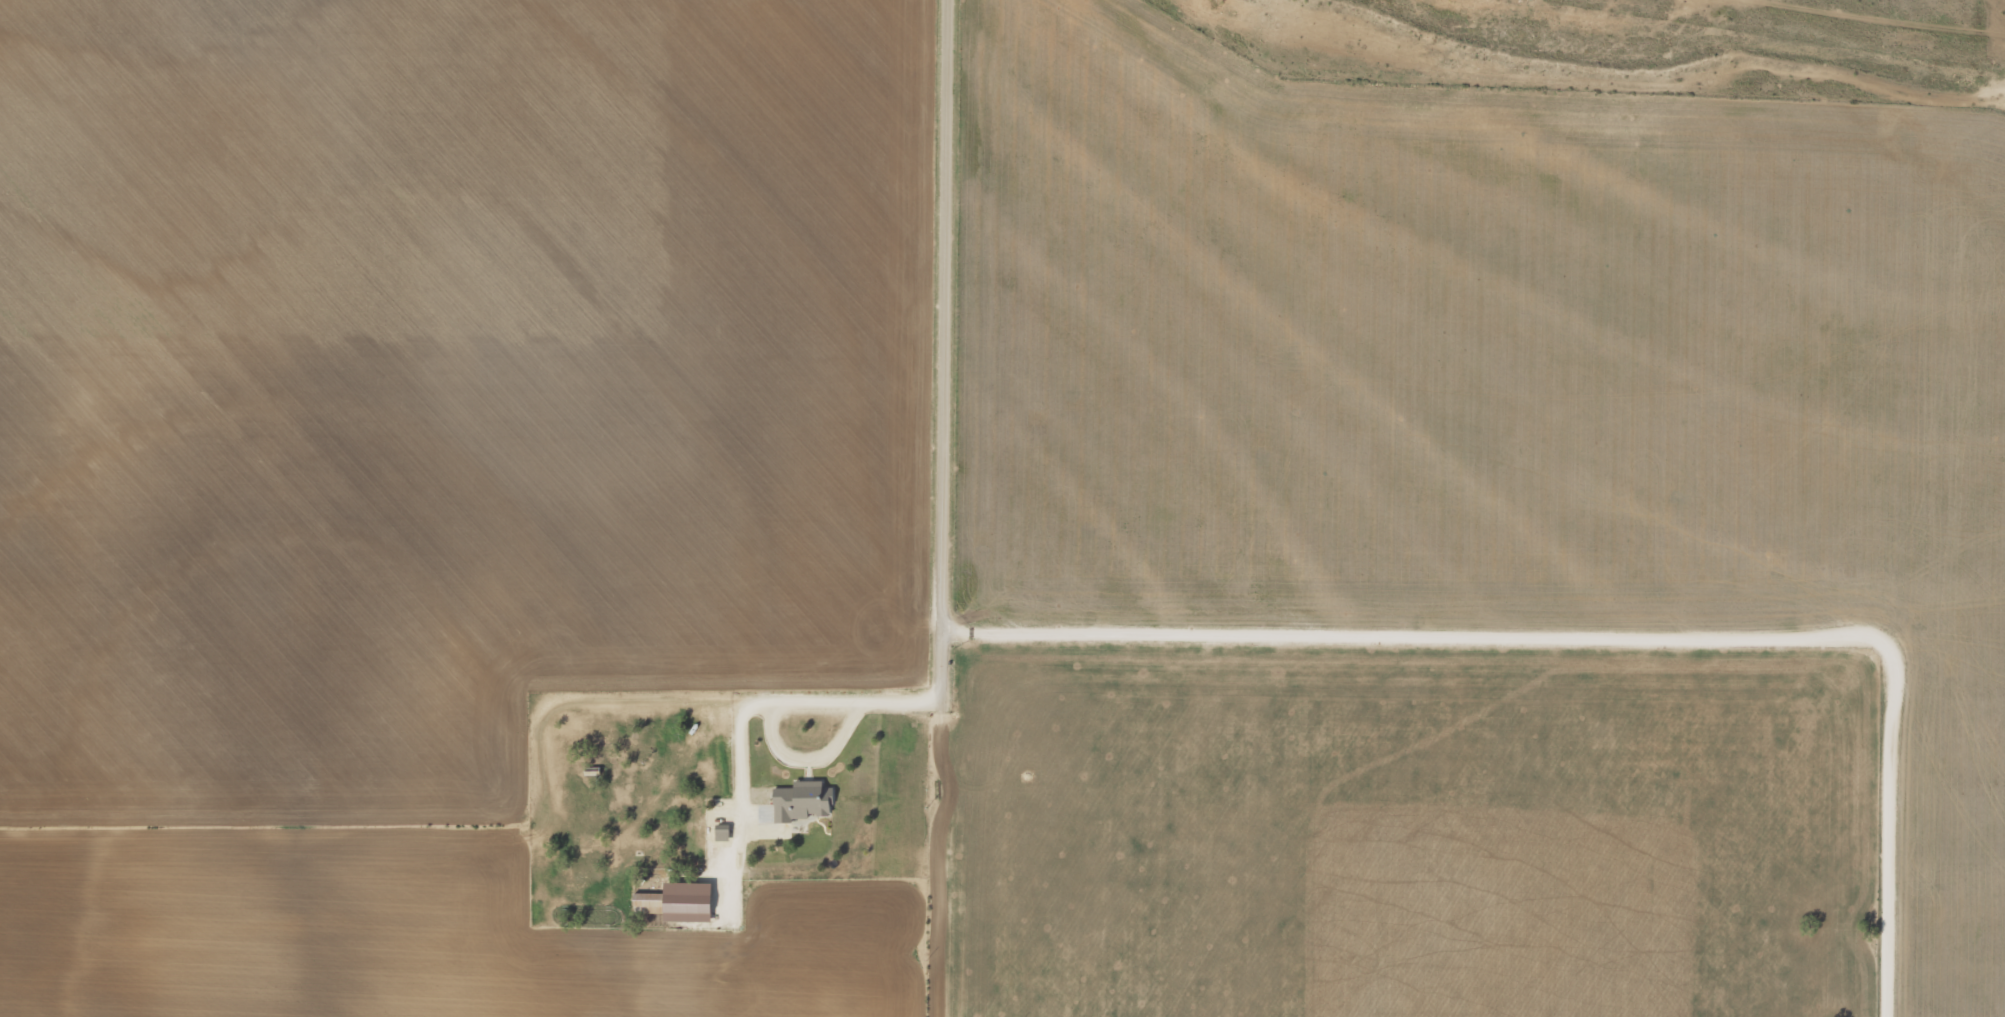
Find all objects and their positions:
road: (982, 320)
road: (1614, 653)
building: (801, 801)
building: (678, 901)
road: (571, 905)

